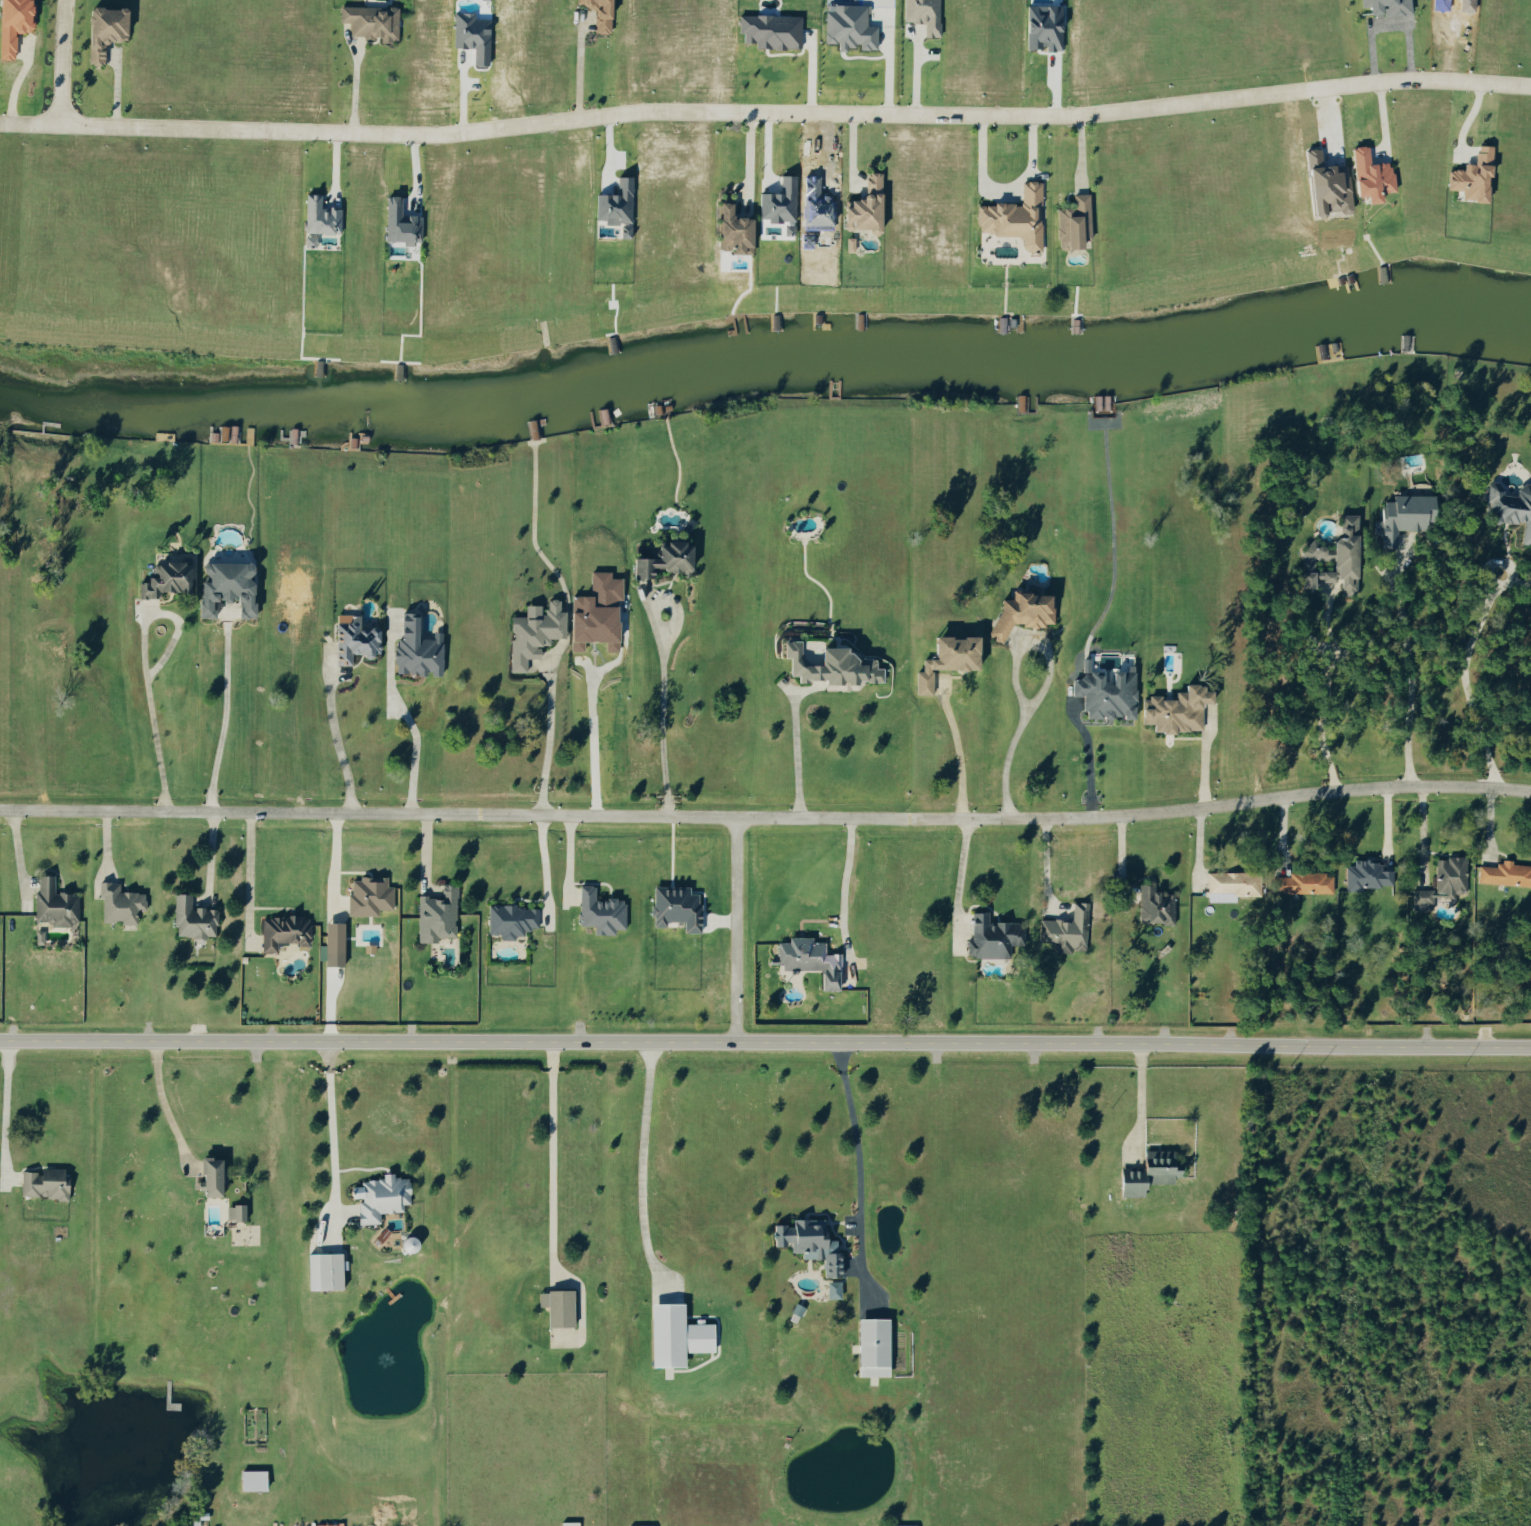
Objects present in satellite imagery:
building: (1385, 7)
building: (922, 14)
building: (369, 21)
building: (13, 23)
building: (847, 26)
building: (100, 30)
road: (58, 61)
road: (916, 68)
road: (577, 72)
road: (353, 89)
road: (765, 112)
road: (1383, 127)
road: (752, 157)
building: (1369, 174)
building: (1471, 176)
road: (1003, 186)
building: (861, 206)
building: (318, 216)
building: (1013, 216)
building: (399, 222)
building: (1072, 222)
building: (729, 230)
building: (307, 240)
building: (848, 244)
building: (1511, 507)
building: (1399, 517)
building: (1333, 558)
building: (660, 560)
building: (164, 579)
building: (224, 587)
building: (594, 612)
building: (1020, 613)
building: (532, 632)
building: (352, 639)
building: (415, 649)
building: (943, 659)
building: (829, 665)
road: (148, 668)
road: (1414, 670)
road: (1465, 677)
road: (1048, 687)
building: (1104, 693)
road: (1331, 699)
building: (1174, 710)
road: (666, 714)
road: (227, 725)
road: (549, 733)
road: (335, 736)
road: (592, 740)
road: (418, 752)
road: (962, 759)
road: (1088, 759)
road: (800, 760)
road: (766, 816)
road: (215, 861)
road: (1050, 866)
road: (958, 872)
building: (1504, 874)
building: (1366, 875)
road: (849, 878)
building: (1302, 882)
building: (1232, 883)
building: (1441, 883)
road: (254, 884)
building: (368, 896)
building: (53, 904)
building: (118, 904)
building: (1153, 906)
building: (674, 907)
building: (598, 912)
building: (435, 915)
building: (190, 919)
building: (511, 919)
road: (733, 928)
building: (1065, 930)
building: (282, 931)
building: (991, 936)
building: (331, 944)
building: (808, 960)
road: (765, 1041)
road: (1144, 1090)
road: (162, 1103)
road: (10, 1115)
road: (854, 1116)
road: (335, 1117)
road: (644, 1151)
road: (555, 1161)
building: (1146, 1172)
building: (208, 1175)
building: (42, 1182)
building: (378, 1196)
building: (233, 1211)
building: (808, 1242)
building: (322, 1269)
building: (831, 1288)
building: (555, 1305)
building: (672, 1334)
building: (869, 1346)
building: (250, 1479)
building: (567, 1523)
building: (637, 1525)
building: (902, 1525)

